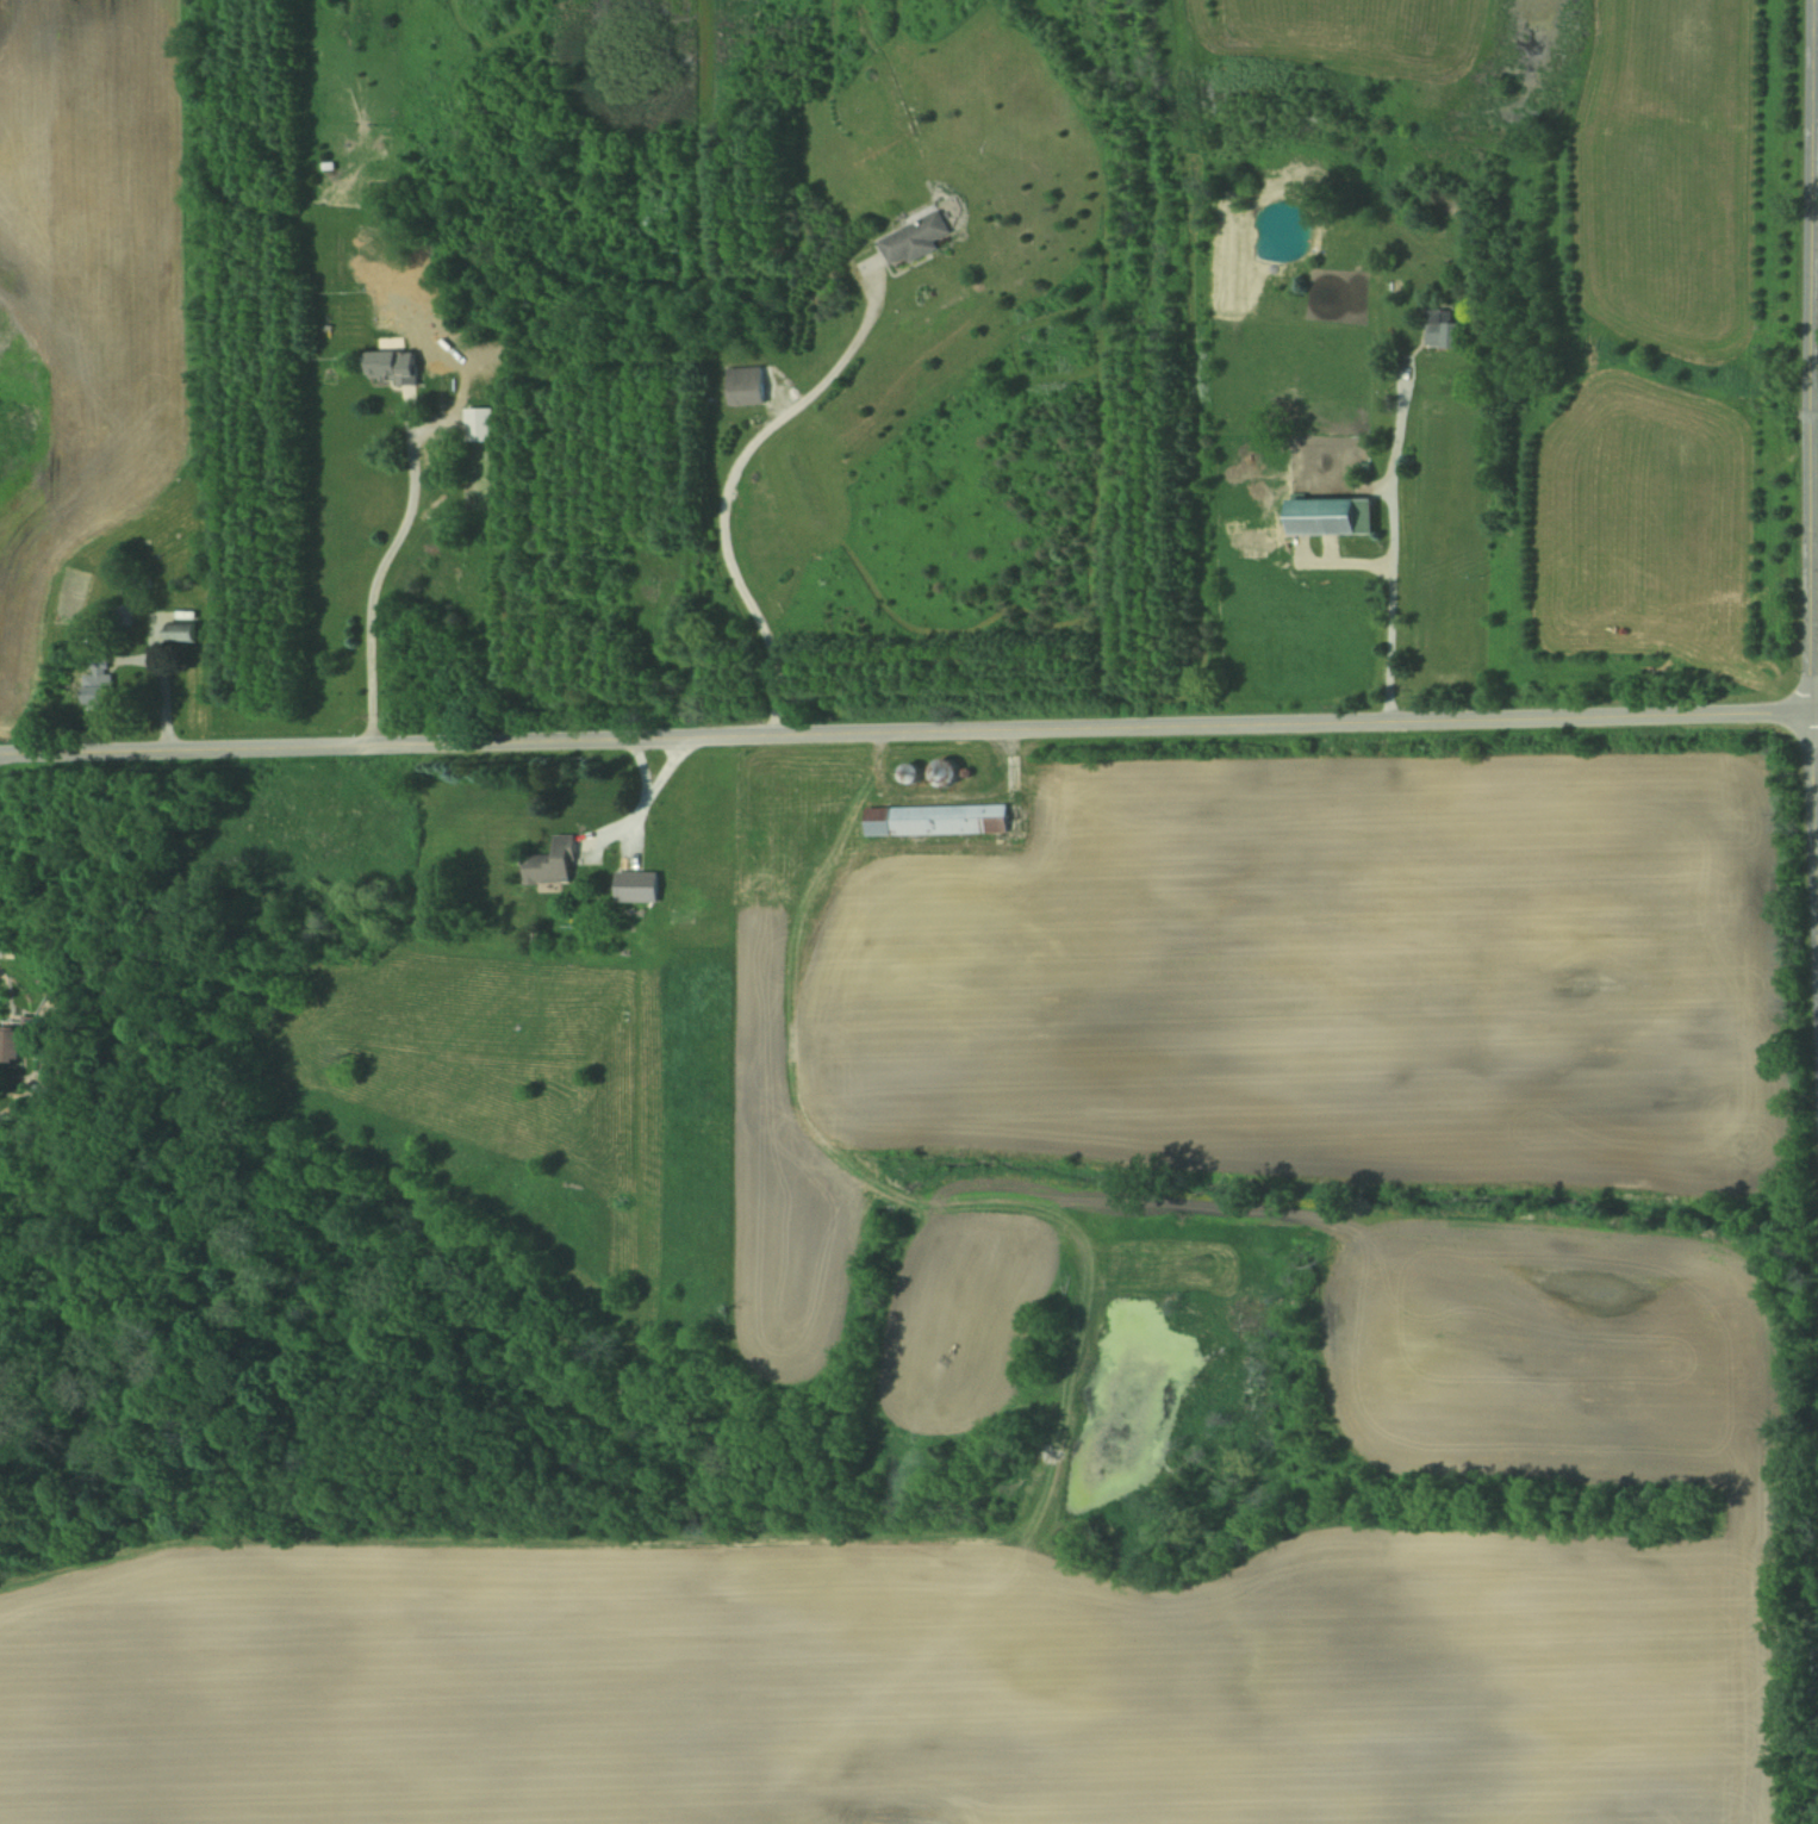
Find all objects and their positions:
road: (1816, 4)
building: (914, 239)
building: (1444, 331)
building: (391, 368)
building: (745, 386)
building: (479, 425)
road: (723, 492)
road: (1811, 493)
building: (1330, 517)
road: (1391, 546)
road: (378, 574)
building: (180, 633)
road: (909, 734)
building: (944, 773)
building: (907, 776)
road: (646, 797)
building: (935, 821)
building: (552, 864)
building: (635, 888)
building: (10, 1044)

